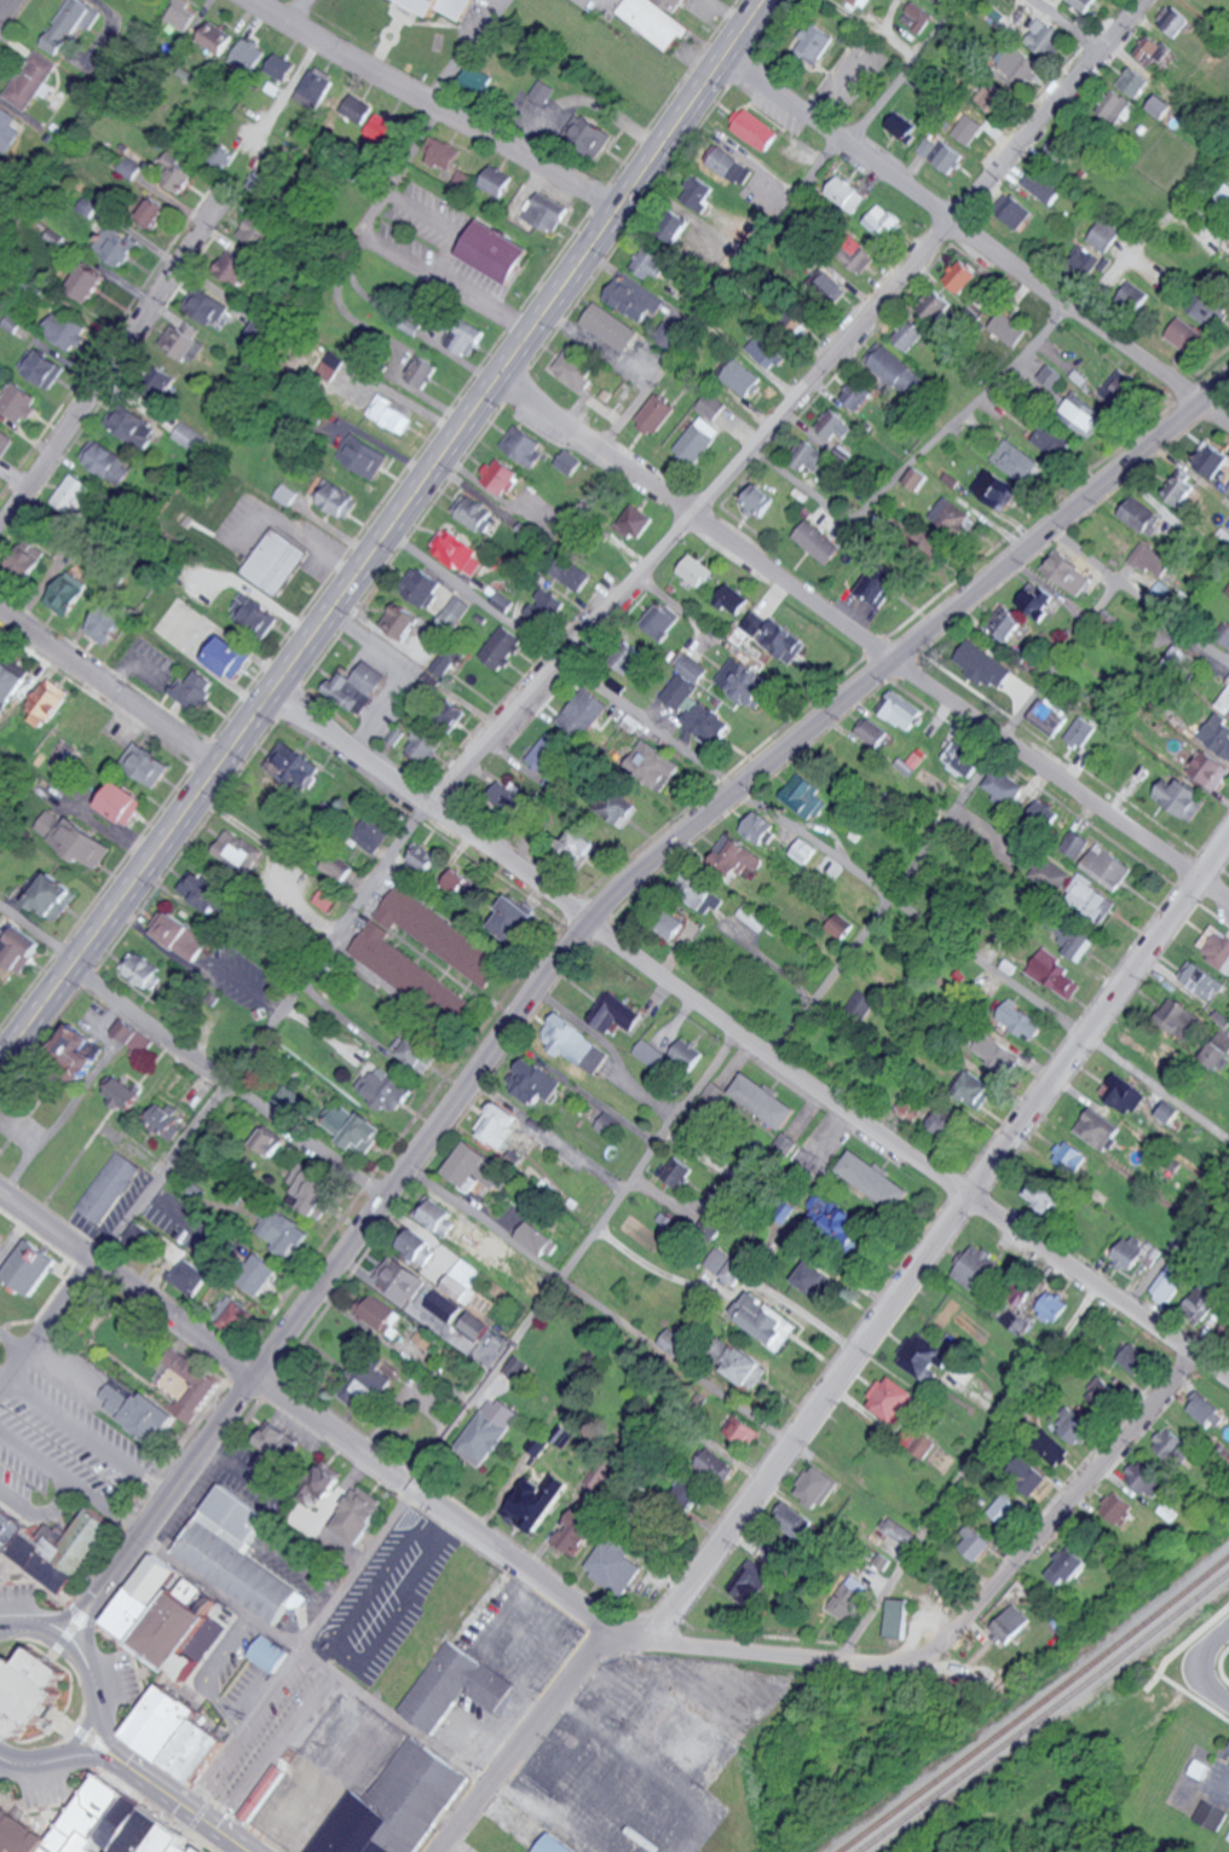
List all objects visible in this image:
building: (862, 2)
road: (2, 4)
building: (1086, 4)
building: (448, 6)
road: (293, 11)
building: (179, 13)
building: (919, 15)
building: (1008, 16)
building: (1173, 17)
building: (657, 19)
building: (73, 23)
road: (1069, 24)
building: (1046, 36)
building: (212, 40)
building: (815, 42)
building: (1153, 50)
road: (463, 52)
building: (247, 54)
building: (1022, 64)
building: (279, 67)
building: (473, 81)
building: (1136, 81)
building: (29, 82)
building: (312, 88)
building: (543, 91)
building: (993, 97)
road: (431, 105)
building: (1120, 105)
building: (1164, 105)
building: (354, 110)
building: (902, 126)
building: (383, 128)
building: (7, 129)
building: (757, 129)
building: (588, 137)
building: (928, 146)
building: (1056, 146)
road: (420, 149)
building: (439, 154)
building: (950, 157)
building: (733, 166)
building: (133, 167)
building: (175, 172)
building: (461, 178)
building: (497, 179)
building: (1044, 186)
building: (699, 191)
building: (847, 194)
road: (396, 198)
building: (91, 206)
road: (375, 210)
building: (152, 212)
building: (543, 213)
building: (883, 220)
road: (779, 221)
building: (676, 226)
road: (965, 226)
building: (253, 229)
road: (450, 229)
road: (1154, 230)
building: (1106, 235)
building: (115, 247)
parking lot: (439, 247)
building: (494, 252)
building: (855, 255)
building: (1090, 260)
building: (650, 261)
building: (237, 267)
building: (962, 275)
building: (88, 282)
road: (452, 282)
building: (829, 288)
building: (1135, 294)
building: (634, 298)
building: (940, 302)
building: (214, 310)
building: (991, 315)
building: (794, 319)
building: (13, 322)
building: (611, 327)
building: (1009, 328)
building: (64, 331)
building: (911, 334)
building: (1188, 335)
building: (466, 337)
building: (183, 341)
building: (766, 350)
road: (111, 363)
building: (42, 368)
building: (330, 368)
building: (573, 368)
building: (900, 370)
building: (421, 373)
building: (1054, 376)
building: (740, 377)
building: (1115, 391)
building: (859, 393)
building: (17, 400)
building: (710, 405)
road: (792, 405)
road: (1218, 405)
building: (391, 414)
building: (654, 414)
building: (1085, 416)
building: (836, 426)
building: (135, 427)
building: (184, 435)
building: (698, 439)
building: (1051, 439)
building: (4, 442)
building: (525, 445)
road: (919, 454)
building: (365, 456)
building: (812, 456)
building: (1212, 458)
building: (106, 460)
building: (1017, 461)
building: (567, 462)
building: (500, 475)
building: (918, 478)
building: (832, 480)
building: (997, 489)
building: (1182, 489)
building: (70, 494)
building: (285, 494)
building: (337, 500)
building: (758, 500)
building: (477, 513)
road: (698, 514)
building: (954, 517)
building: (634, 521)
road: (382, 532)
building: (819, 541)
building: (457, 553)
building: (25, 558)
building: (275, 561)
building: (697, 571)
building: (1068, 572)
building: (572, 573)
building: (882, 585)
building: (423, 587)
building: (65, 593)
building: (734, 599)
building: (1037, 599)
building: (503, 601)
building: (544, 606)
building: (456, 608)
building: (254, 615)
building: (662, 619)
building: (104, 622)
building: (402, 622)
building: (756, 622)
road: (1173, 622)
building: (1009, 624)
building: (785, 641)
building: (502, 647)
building: (227, 657)
building: (628, 658)
building: (444, 662)
building: (983, 664)
building: (693, 668)
building: (746, 680)
building: (12, 681)
building: (357, 686)
road: (108, 690)
building: (196, 690)
building: (677, 690)
building: (48, 699)
building: (1224, 700)
building: (584, 710)
building: (900, 710)
building: (1048, 714)
building: (703, 720)
building: (1083, 732)
building: (873, 733)
building: (1218, 733)
building: (427, 744)
building: (546, 752)
building: (917, 757)
building: (962, 757)
building: (299, 763)
building: (145, 766)
building: (652, 766)
building: (1210, 768)
road: (1062, 779)
building: (1003, 785)
building: (803, 796)
building: (507, 797)
building: (1182, 798)
building: (121, 802)
road: (431, 802)
building: (614, 810)
building: (1045, 814)
road: (946, 820)
building: (760, 829)
building: (374, 833)
road: (804, 838)
building: (79, 842)
building: (578, 844)
building: (236, 848)
building: (806, 850)
building: (737, 856)
building: (425, 858)
building: (1097, 859)
building: (337, 867)
building: (1056, 875)
building: (458, 882)
building: (204, 892)
road: (612, 892)
building: (710, 894)
building: (53, 896)
building: (1092, 898)
building: (327, 899)
building: (752, 917)
building: (515, 919)
building: (841, 928)
building: (680, 931)
road: (37, 935)
building: (181, 936)
building: (1071, 937)
building: (1216, 945)
building: (456, 946)
building: (17, 948)
building: (143, 970)
building: (1055, 974)
building: (1202, 980)
building: (0, 1002)
building: (864, 1003)
building: (1, 1004)
building: (618, 1014)
building: (1176, 1015)
building: (1020, 1020)
building: (123, 1028)
building: (138, 1040)
building: (577, 1044)
building: (79, 1049)
building: (1218, 1050)
building: (420, 1052)
building: (651, 1054)
building: (689, 1054)
building: (535, 1081)
road: (225, 1084)
building: (975, 1085)
building: (387, 1090)
building: (125, 1094)
building: (1123, 1095)
road: (79, 1096)
road: (220, 1100)
building: (287, 1100)
building: (766, 1101)
building: (1171, 1112)
building: (167, 1119)
building: (498, 1125)
building: (610, 1125)
building: (354, 1127)
building: (1098, 1131)
road: (550, 1133)
building: (269, 1142)
road: (906, 1150)
building: (514, 1158)
building: (1071, 1158)
building: (478, 1169)
building: (679, 1172)
building: (298, 1175)
building: (876, 1181)
building: (111, 1190)
building: (1050, 1193)
building: (317, 1195)
road: (1179, 1196)
building: (438, 1217)
building: (847, 1224)
building: (716, 1227)
building: (287, 1235)
building: (537, 1240)
building: (2, 1242)
building: (154, 1245)
building: (419, 1247)
building: (1132, 1252)
building: (726, 1267)
building: (980, 1270)
building: (34, 1275)
building: (190, 1275)
building: (261, 1275)
building: (399, 1277)
building: (462, 1280)
building: (815, 1280)
road: (129, 1282)
building: (1171, 1282)
building: (1021, 1288)
road: (600, 1303)
building: (443, 1305)
building: (1207, 1305)
building: (1055, 1308)
building: (232, 1316)
building: (382, 1316)
road: (808, 1317)
building: (766, 1321)
building: (475, 1327)
building: (942, 1329)
building: (426, 1338)
road: (15, 1342)
building: (679, 1344)
building: (350, 1346)
building: (923, 1357)
building: (1137, 1361)
road: (852, 1363)
building: (744, 1367)
building: (189, 1387)
building: (371, 1390)
building: (893, 1400)
building: (1206, 1408)
building: (139, 1419)
road: (450, 1425)
building: (1078, 1426)
building: (489, 1431)
building: (745, 1431)
road: (91, 1440)
building: (277, 1440)
building: (1176, 1444)
parking lot: (62, 1446)
building: (1055, 1448)
building: (711, 1467)
road: (968, 1472)
building: (1035, 1476)
building: (1148, 1476)
road: (73, 1483)
building: (323, 1484)
building: (817, 1487)
building: (691, 1492)
building: (535, 1501)
building: (1120, 1508)
building: (1009, 1510)
road: (1052, 1512)
building: (358, 1513)
road: (41, 1515)
building: (795, 1525)
building: (578, 1529)
building: (976, 1541)
building: (50, 1546)
building: (233, 1554)
building: (613, 1564)
building: (1068, 1564)
road: (117, 1576)
road: (33, 1580)
building: (748, 1581)
building: (846, 1596)
parking lot: (391, 1599)
building: (145, 1602)
road: (70, 1611)
building: (894, 1616)
road: (67, 1617)
road: (605, 1620)
road: (86, 1622)
building: (1010, 1627)
building: (178, 1628)
road: (1210, 1631)
road: (85, 1632)
road: (63, 1637)
road: (64, 1637)
building: (269, 1652)
road: (315, 1665)
road: (140, 1674)
road: (1198, 1683)
building: (455, 1684)
building: (30, 1687)
railway: (1032, 1704)
railway: (1042, 1709)
road: (102, 1725)
road: (77, 1730)
building: (174, 1731)
road: (81, 1732)
road: (106, 1738)
building: (1228, 1753)
road: (80, 1755)
road: (97, 1756)
road: (1, 1759)
road: (24, 1759)
road: (179, 1804)
building: (393, 1805)
building: (1212, 1815)
road: (54, 1824)
building: (103, 1828)
building: (554, 1845)
road: (1038, 1851)

